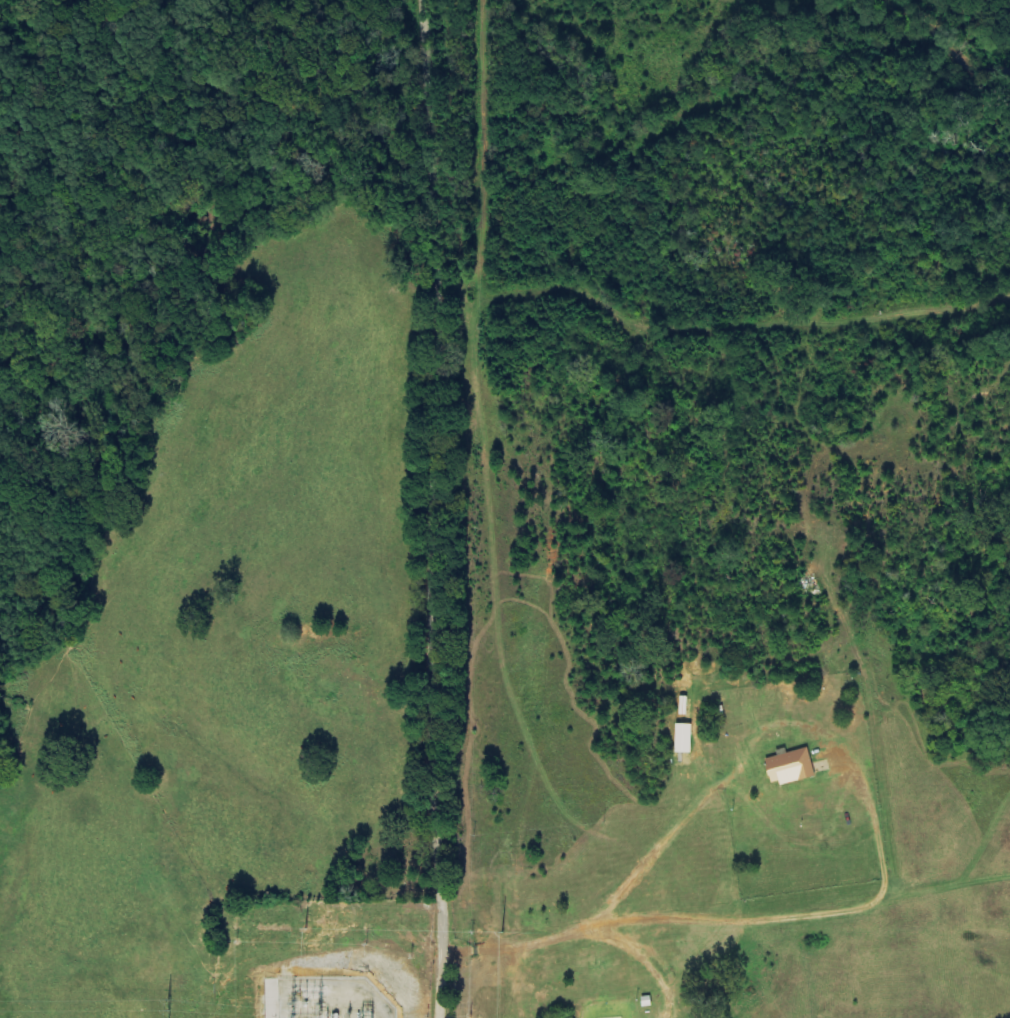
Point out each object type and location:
road: (436, 508)
building: (787, 767)

